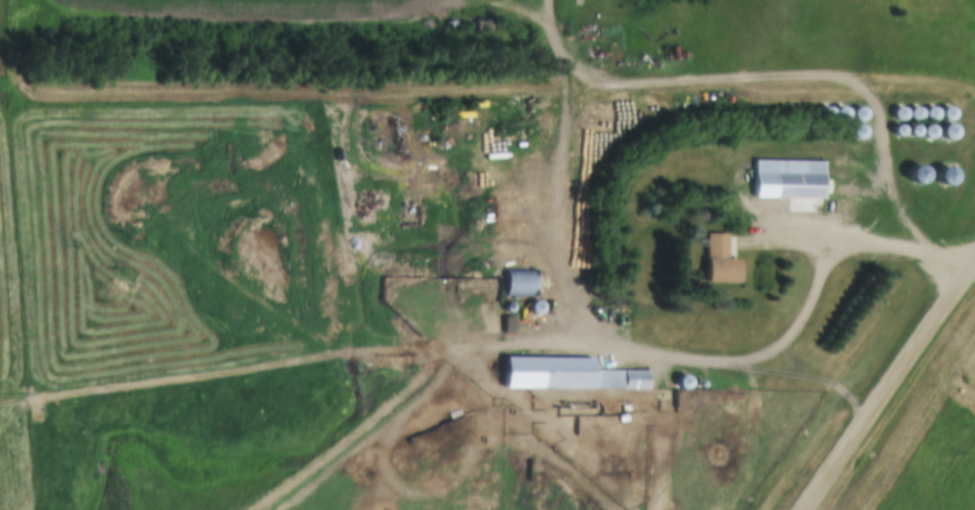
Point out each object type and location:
building: (483, 29)
road: (561, 48)
road: (821, 82)
road: (297, 85)
building: (830, 112)
silo: (830, 112)
building: (845, 112)
silo: (845, 112)
building: (919, 112)
silo: (919, 112)
building: (936, 112)
silo: (936, 112)
building: (864, 113)
silo: (864, 113)
building: (903, 113)
silo: (903, 113)
building: (952, 113)
silo: (952, 113)
building: (902, 129)
silo: (902, 129)
building: (916, 129)
silo: (916, 129)
building: (934, 130)
silo: (934, 130)
building: (863, 131)
silo: (863, 131)
building: (954, 131)
silo: (954, 131)
building: (947, 132)
building: (921, 173)
silo: (921, 173)
building: (951, 174)
silo: (951, 174)
building: (793, 177)
building: (726, 259)
building: (525, 282)
building: (514, 306)
silo: (514, 306)
building: (541, 306)
silo: (541, 306)
building: (513, 323)
road: (556, 347)
building: (552, 371)
building: (626, 378)
building: (688, 380)
silo: (688, 380)
building: (706, 382)
silo: (706, 382)
road: (890, 388)
building: (65, 420)

